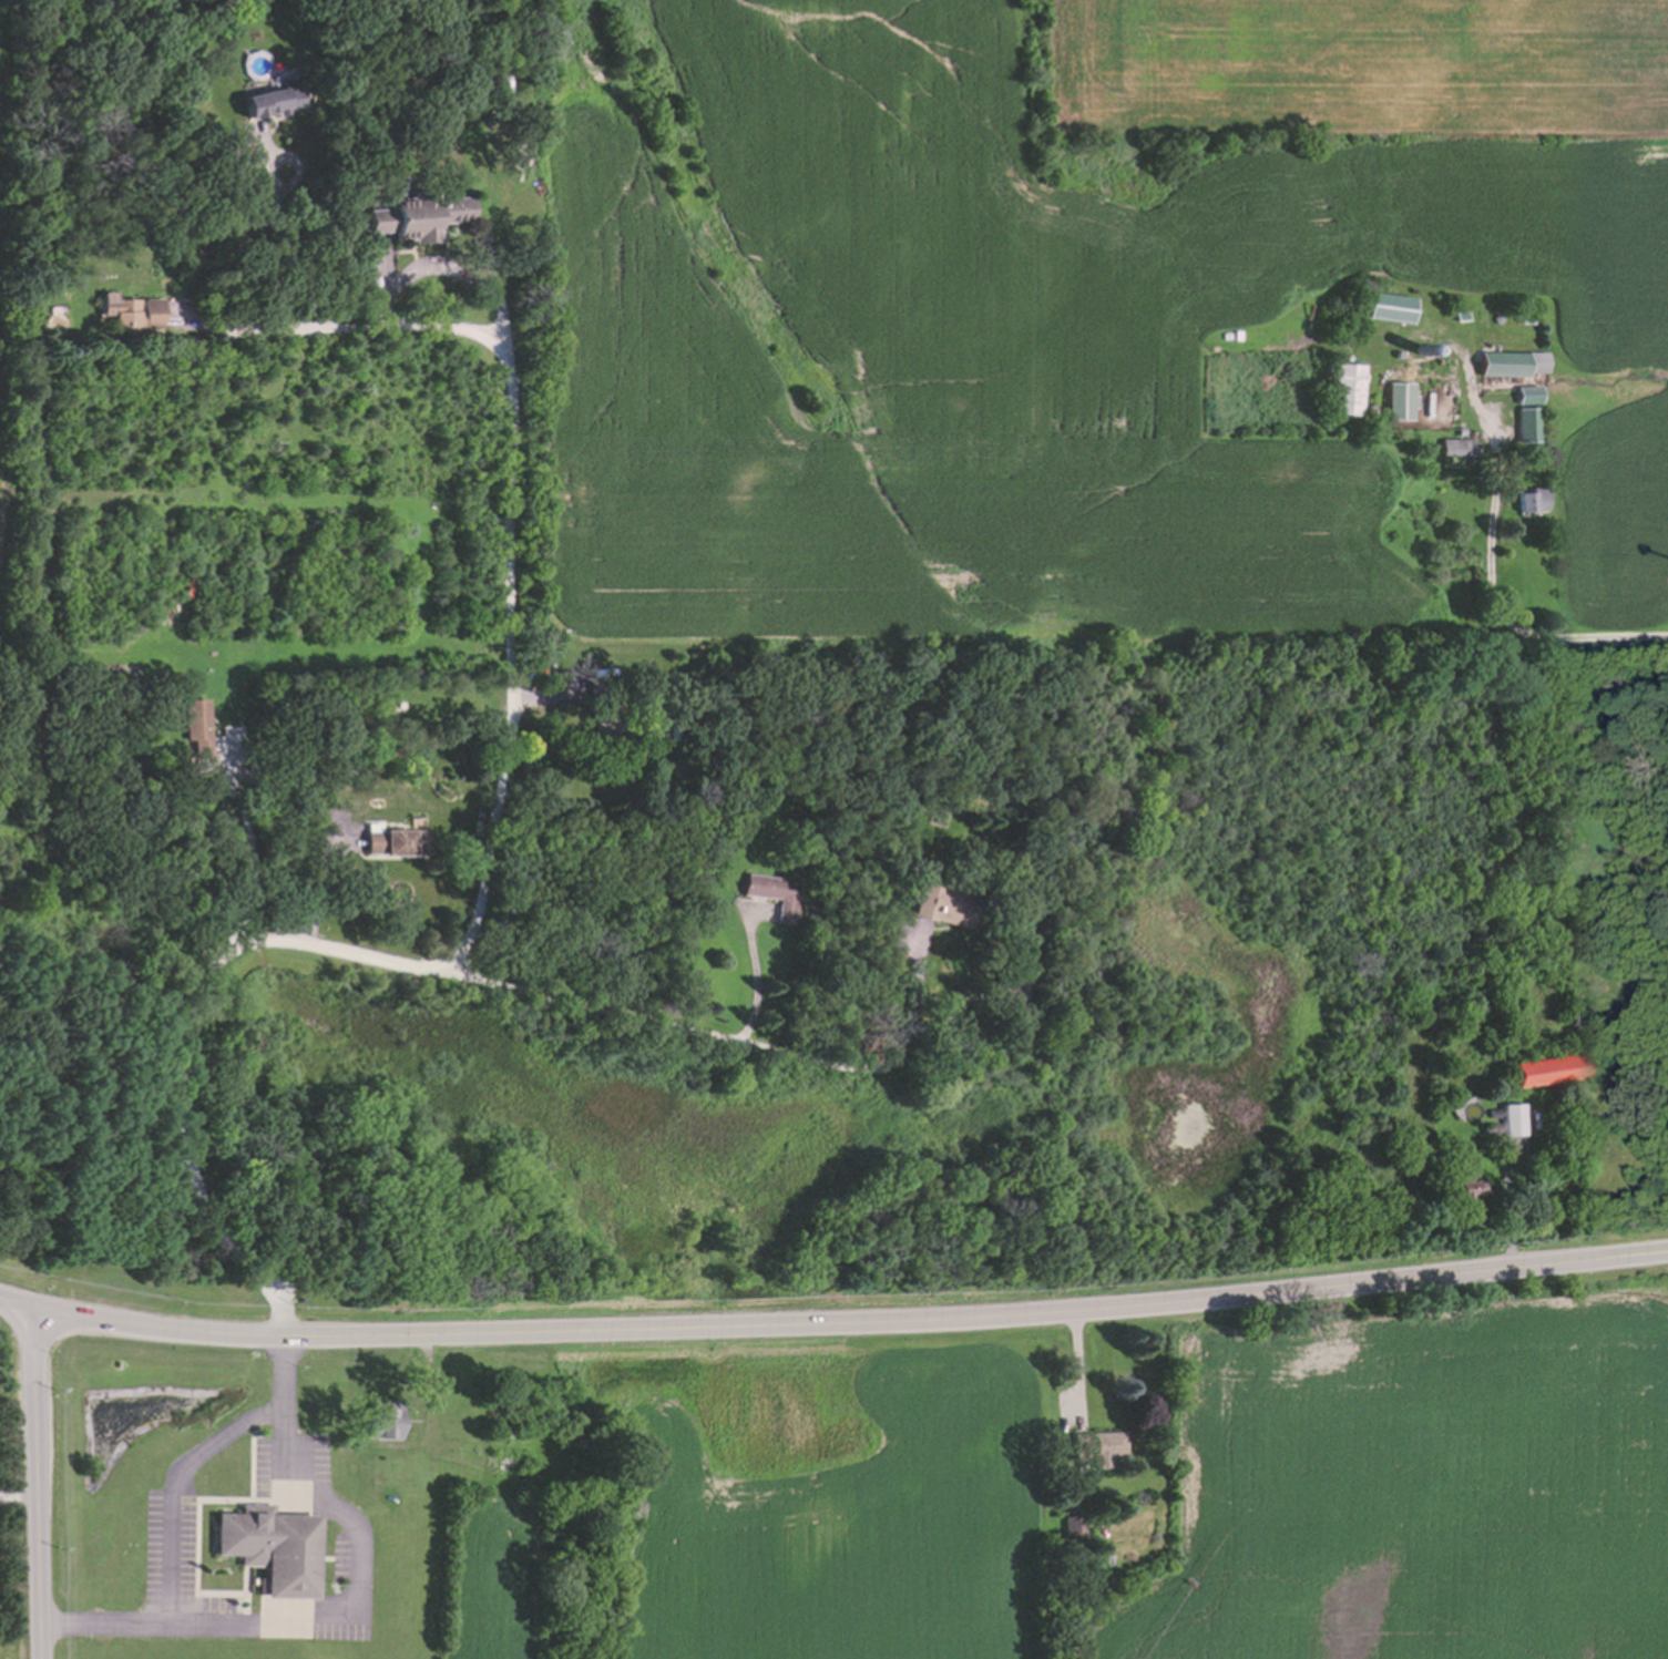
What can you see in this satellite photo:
building: (270, 96)
building: (237, 136)
building: (415, 218)
road: (286, 228)
road: (441, 268)
building: (1383, 308)
building: (127, 313)
building: (1446, 314)
building: (1516, 315)
building: (1485, 316)
building: (1482, 345)
building: (1411, 349)
building: (1390, 351)
building: (1328, 354)
building: (1336, 354)
building: (1503, 362)
building: (1334, 389)
building: (1515, 391)
building: (1392, 397)
building: (1359, 406)
building: (1516, 427)
building: (1447, 442)
building: (1523, 499)
road: (508, 526)
road: (1482, 559)
building: (598, 706)
building: (191, 725)
building: (390, 842)
road: (247, 857)
building: (771, 894)
building: (939, 903)
road: (337, 953)
road: (751, 977)
building: (1005, 995)
building: (1539, 1071)
building: (1490, 1113)
building: (1508, 1118)
building: (1587, 1120)
building: (1486, 1128)
building: (1510, 1160)
building: (1459, 1182)
road: (1504, 1207)
road: (17, 1303)
road: (850, 1308)
building: (380, 1421)
building: (1094, 1448)
parking lot: (266, 1467)
road: (40, 1483)
road: (171, 1486)
road: (20, 1496)
building: (1070, 1526)
parking lot: (167, 1546)
building: (276, 1553)
parking lot: (342, 1557)
road: (356, 1612)

